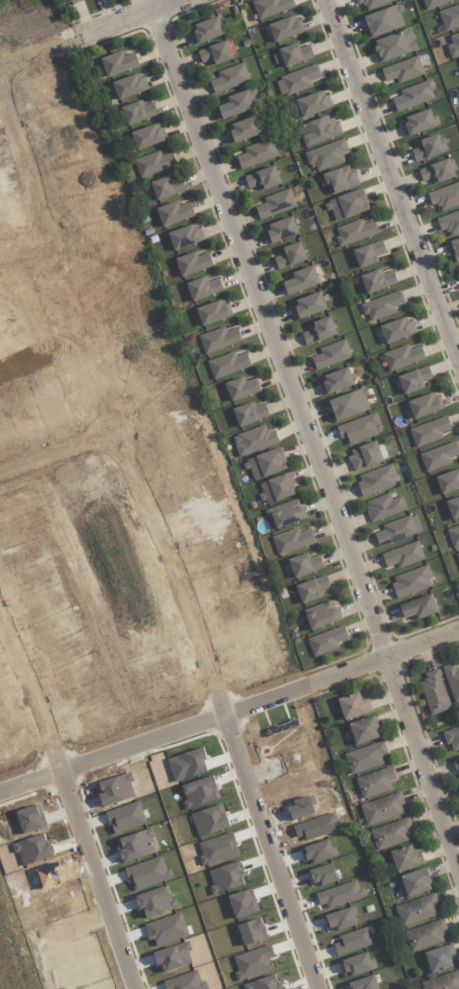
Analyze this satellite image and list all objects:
building: (70, 1)
building: (372, 3)
building: (434, 3)
building: (271, 7)
building: (449, 17)
building: (383, 20)
building: (285, 27)
building: (206, 30)
road: (88, 33)
building: (394, 45)
building: (453, 45)
building: (215, 53)
building: (294, 54)
building: (119, 62)
building: (402, 69)
building: (229, 78)
building: (297, 80)
building: (129, 85)
building: (414, 95)
building: (239, 103)
building: (312, 103)
building: (138, 111)
building: (418, 121)
building: (243, 129)
building: (319, 130)
building: (148, 136)
building: (427, 147)
building: (257, 153)
building: (326, 154)
building: (154, 163)
road: (25, 169)
building: (436, 171)
building: (263, 178)
building: (341, 179)
road: (394, 179)
building: (167, 187)
building: (445, 196)
building: (275, 203)
building: (347, 205)
building: (174, 212)
building: (449, 222)
building: (280, 229)
building: (355, 231)
building: (185, 236)
building: (453, 249)
road: (20, 250)
building: (367, 254)
building: (290, 255)
building: (193, 262)
building: (457, 270)
building: (301, 280)
building: (376, 280)
building: (203, 287)
building: (308, 305)
building: (382, 305)
building: (213, 311)
building: (319, 330)
building: (395, 330)
road: (269, 333)
building: (219, 338)
building: (331, 354)
building: (402, 356)
building: (228, 364)
building: (413, 379)
building: (336, 380)
building: (241, 388)
building: (348, 404)
building: (423, 405)
building: (249, 413)
building: (359, 428)
building: (429, 431)
building: (255, 439)
road: (56, 453)
building: (365, 455)
building: (438, 456)
building: (265, 464)
building: (376, 479)
building: (448, 481)
building: (276, 488)
building: (384, 506)
building: (453, 507)
building: (286, 513)
building: (398, 530)
building: (453, 535)
building: (292, 540)
building: (403, 555)
building: (457, 556)
building: (305, 564)
building: (411, 581)
building: (312, 588)
building: (419, 607)
building: (322, 614)
building: (326, 640)
building: (452, 679)
building: (434, 692)
building: (354, 705)
road: (222, 708)
road: (230, 713)
building: (363, 729)
building: (452, 738)
building: (365, 757)
road: (422, 760)
building: (456, 764)
building: (375, 782)
road: (70, 803)
building: (300, 806)
building: (383, 808)
building: (210, 819)
building: (316, 826)
building: (391, 833)
building: (218, 848)
building: (318, 851)
building: (405, 857)
building: (322, 874)
building: (226, 876)
building: (415, 882)
building: (340, 894)
building: (241, 902)
building: (417, 910)
building: (339, 919)
building: (251, 931)
building: (425, 934)
building: (352, 940)
building: (440, 958)
building: (254, 961)
building: (356, 964)
building: (443, 981)
building: (363, 982)
building: (265, 983)

